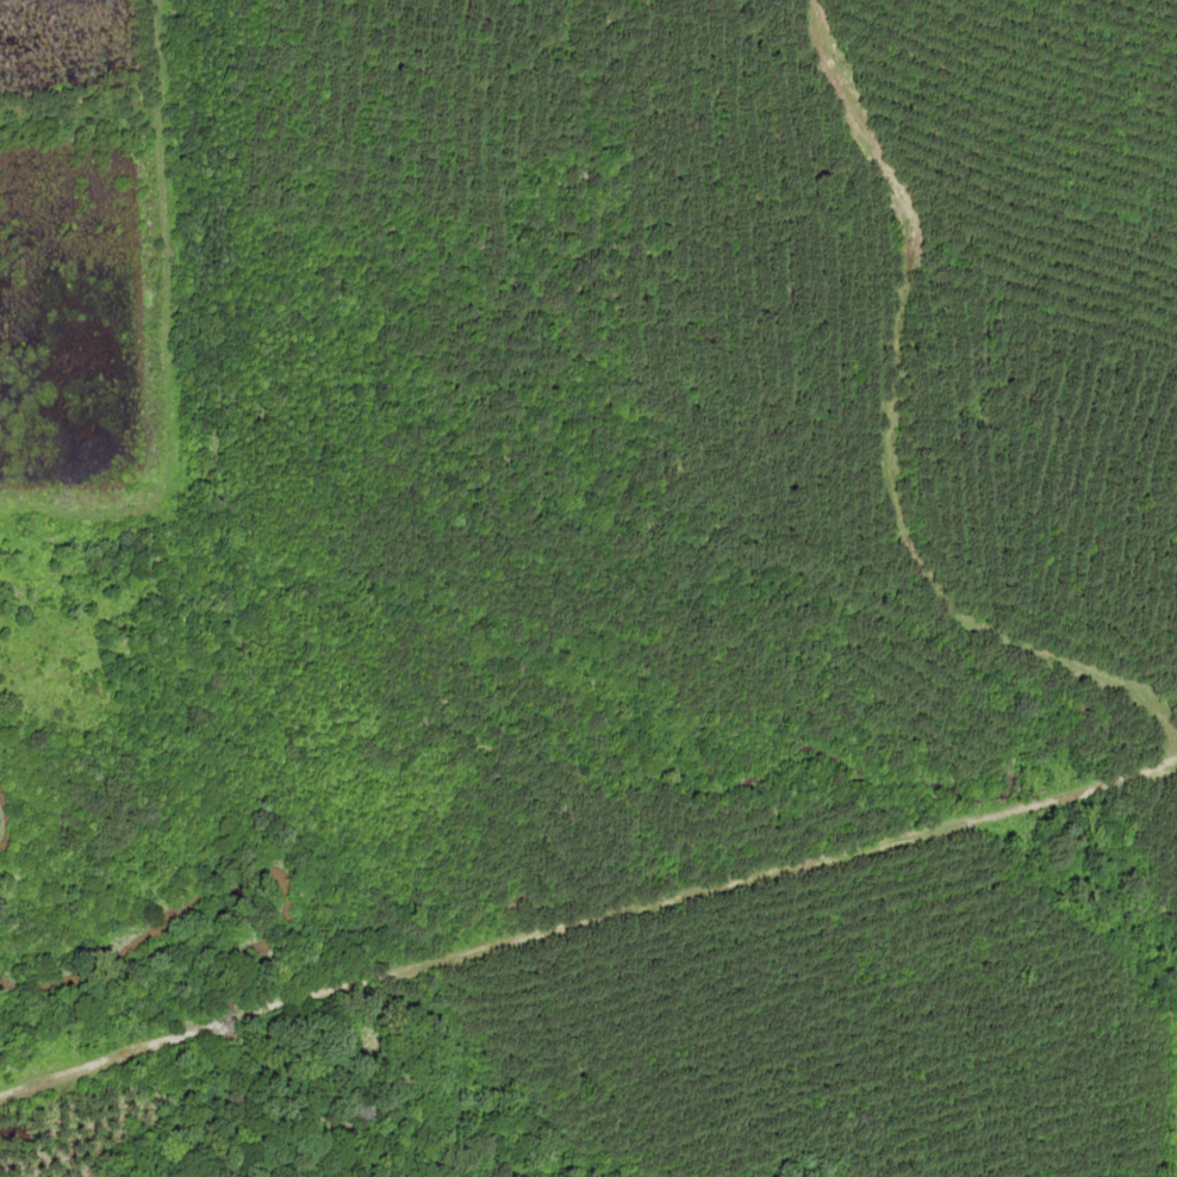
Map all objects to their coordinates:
road: (203, 1098)

